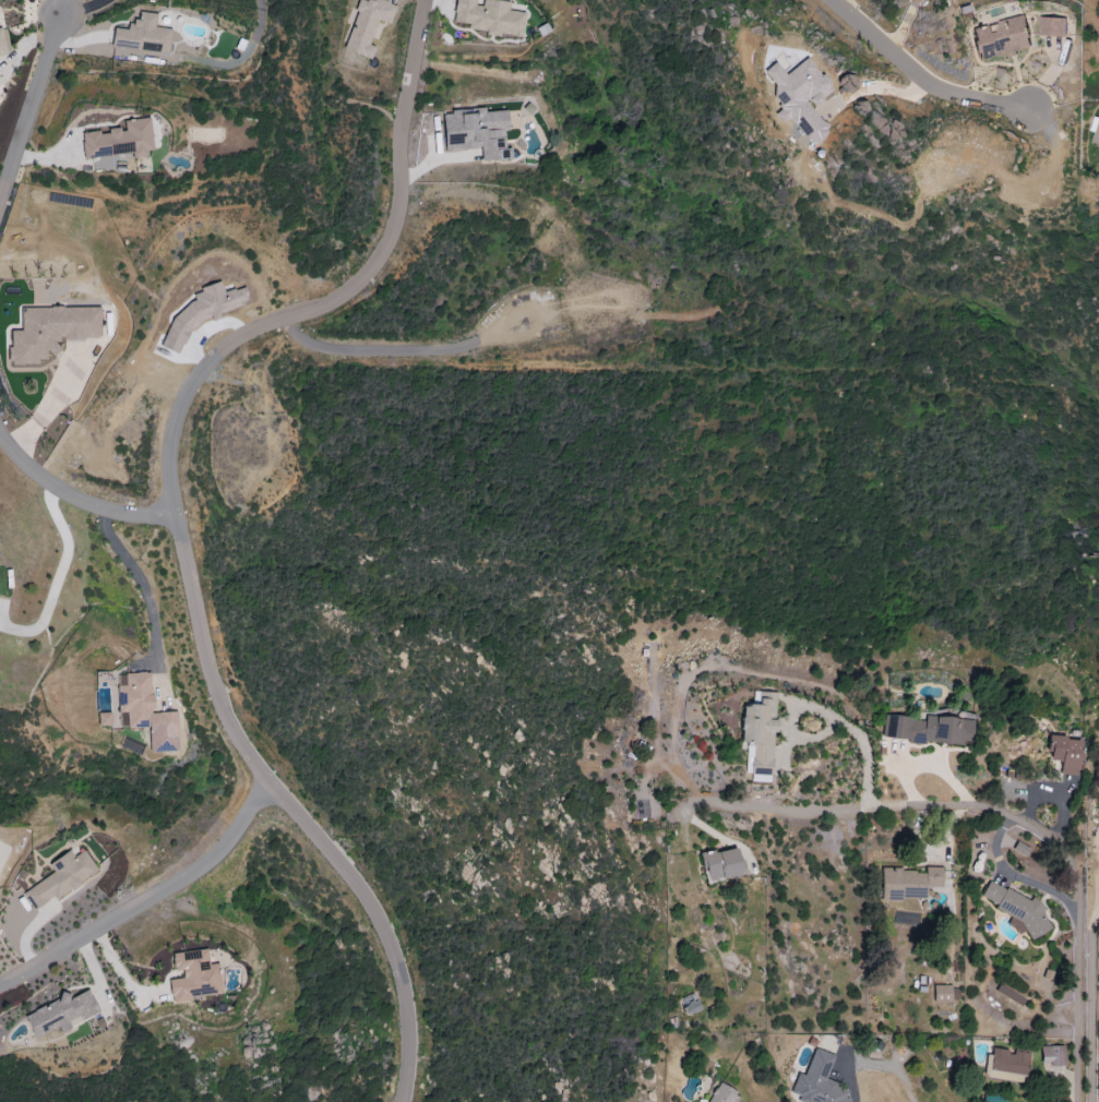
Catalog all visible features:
road: (93, 14)
building: (489, 16)
building: (367, 25)
building: (1054, 26)
building: (142, 35)
building: (1003, 37)
building: (2, 46)
road: (921, 77)
building: (799, 96)
road: (31, 109)
building: (477, 132)
building: (119, 140)
building: (1098, 142)
building: (201, 311)
building: (50, 332)
road: (77, 494)
road: (178, 525)
road: (147, 584)
road: (58, 591)
building: (145, 710)
road: (831, 716)
building: (103, 719)
building: (931, 729)
building: (1064, 754)
road: (1006, 812)
building: (720, 864)
building: (60, 878)
building: (909, 883)
road: (148, 899)
building: (50, 908)
building: (1018, 911)
building: (192, 977)
road: (122, 979)
building: (942, 994)
building: (1010, 995)
building: (690, 1004)
building: (61, 1014)
building: (1051, 1055)
building: (1006, 1065)
building: (819, 1081)
building: (721, 1094)
building: (992, 1099)

